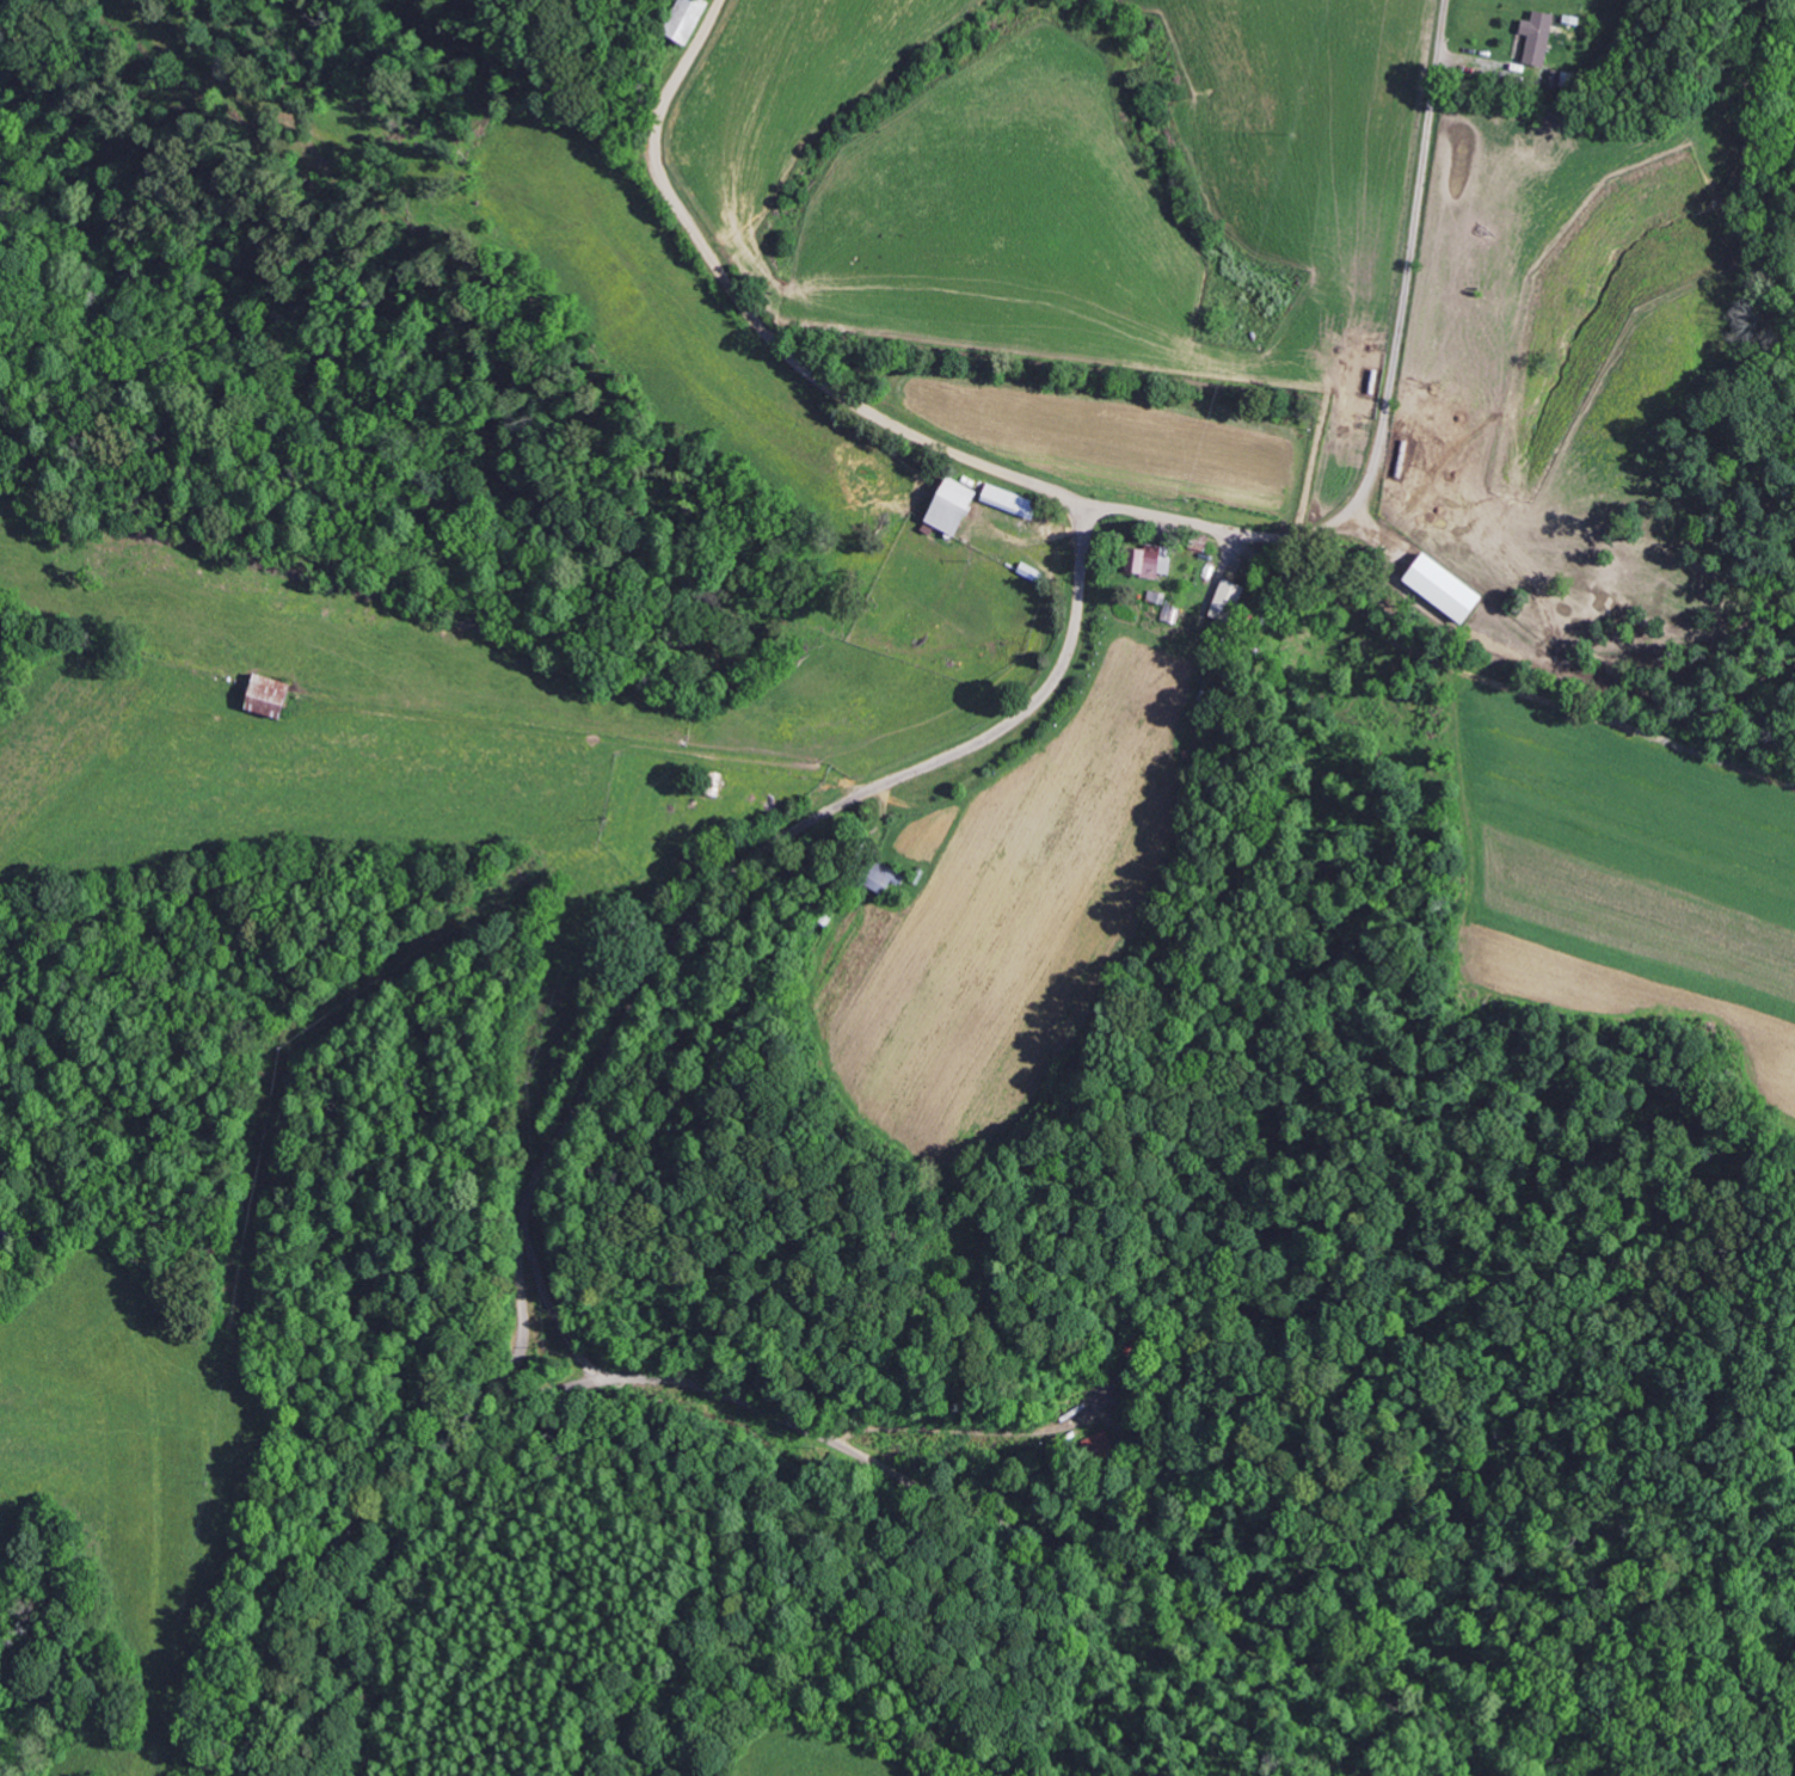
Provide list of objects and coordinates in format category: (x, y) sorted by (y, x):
building: (1533, 38)
road: (1385, 400)
building: (1004, 500)
building: (943, 505)
building: (1148, 560)
building: (1437, 586)
building: (1222, 601)
building: (259, 695)
road: (1033, 701)
building: (878, 877)
road: (517, 1317)
road: (854, 1446)

